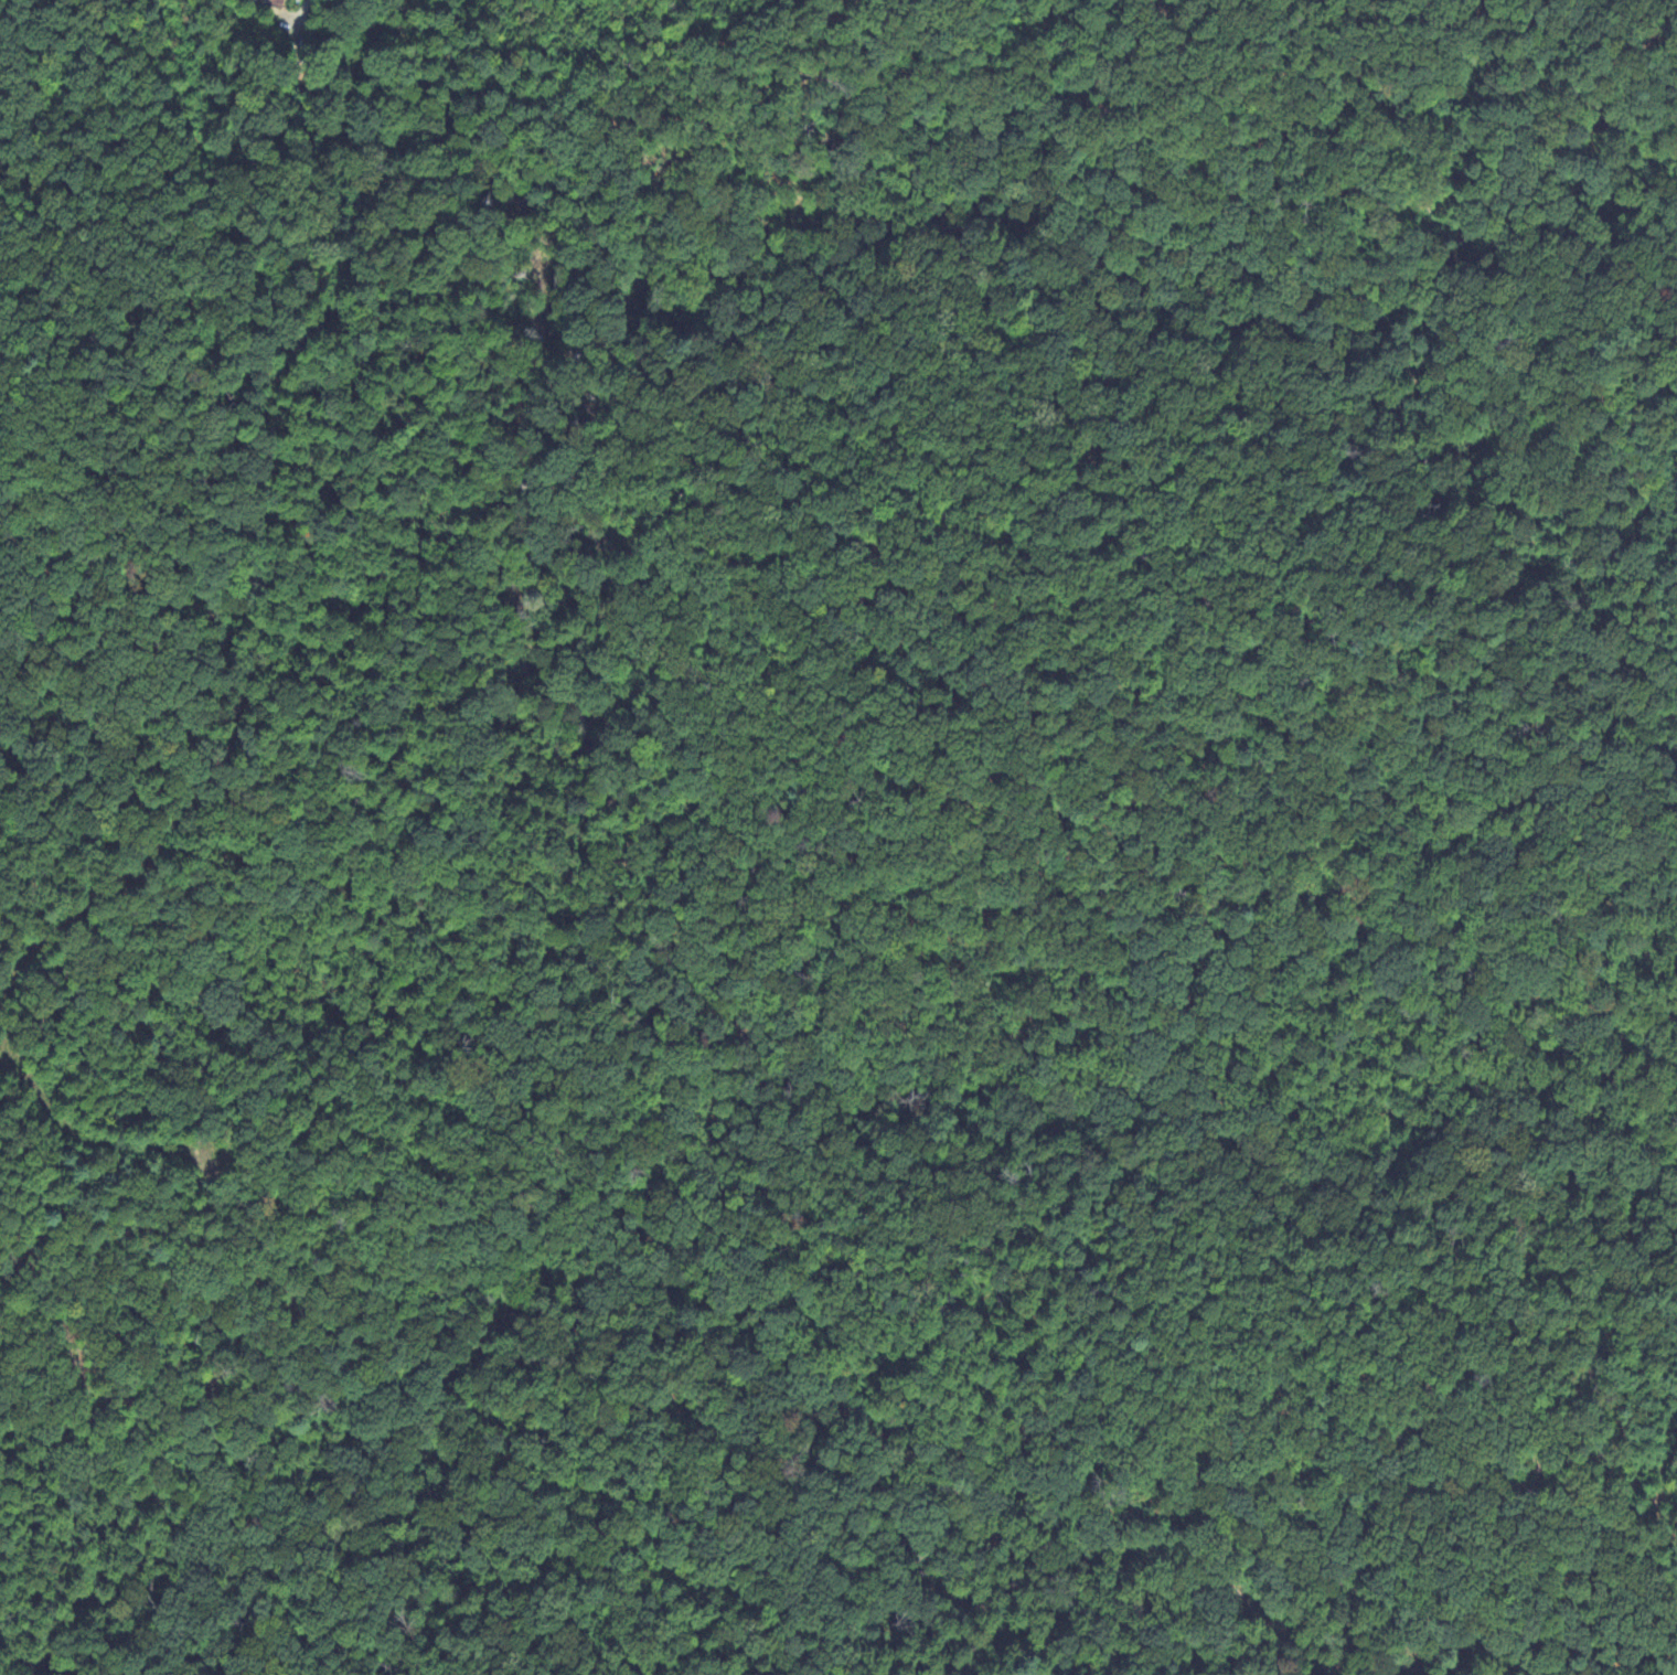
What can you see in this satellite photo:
building: (266, 3)
road: (306, 12)

